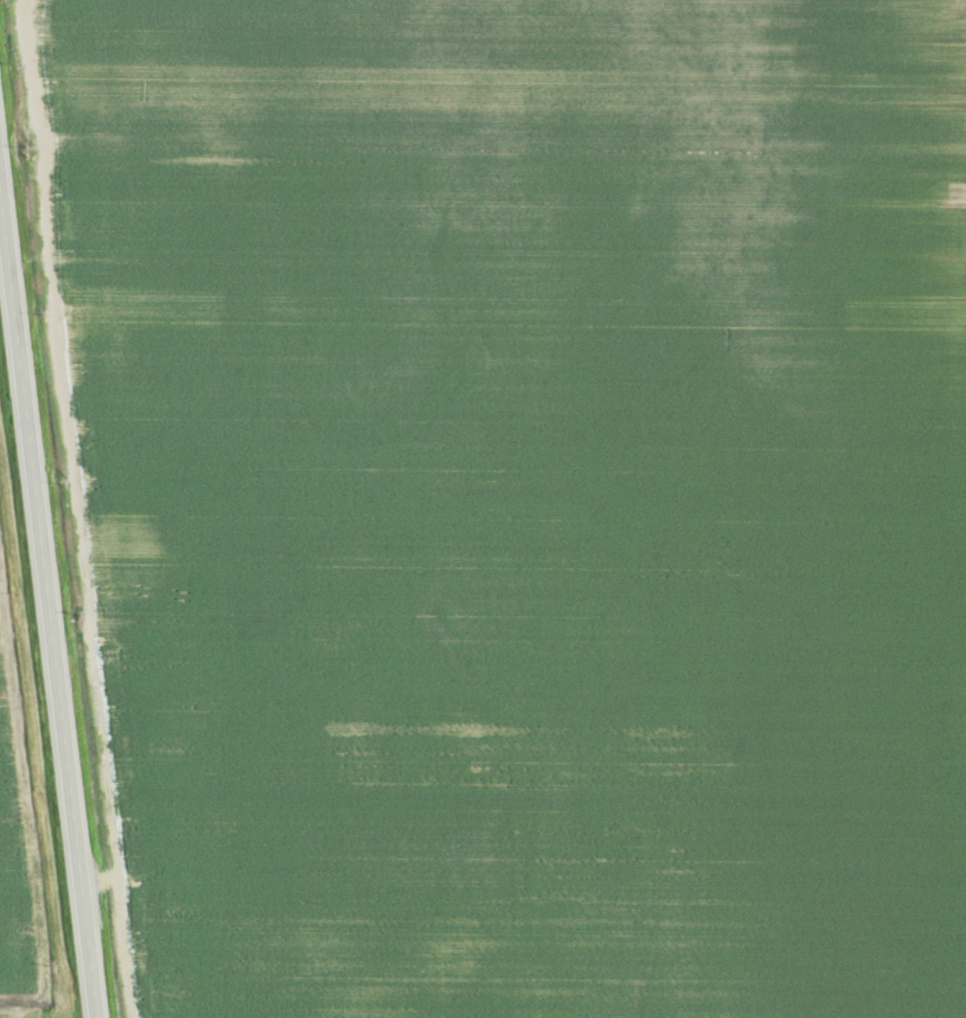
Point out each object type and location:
road: (49, 601)

